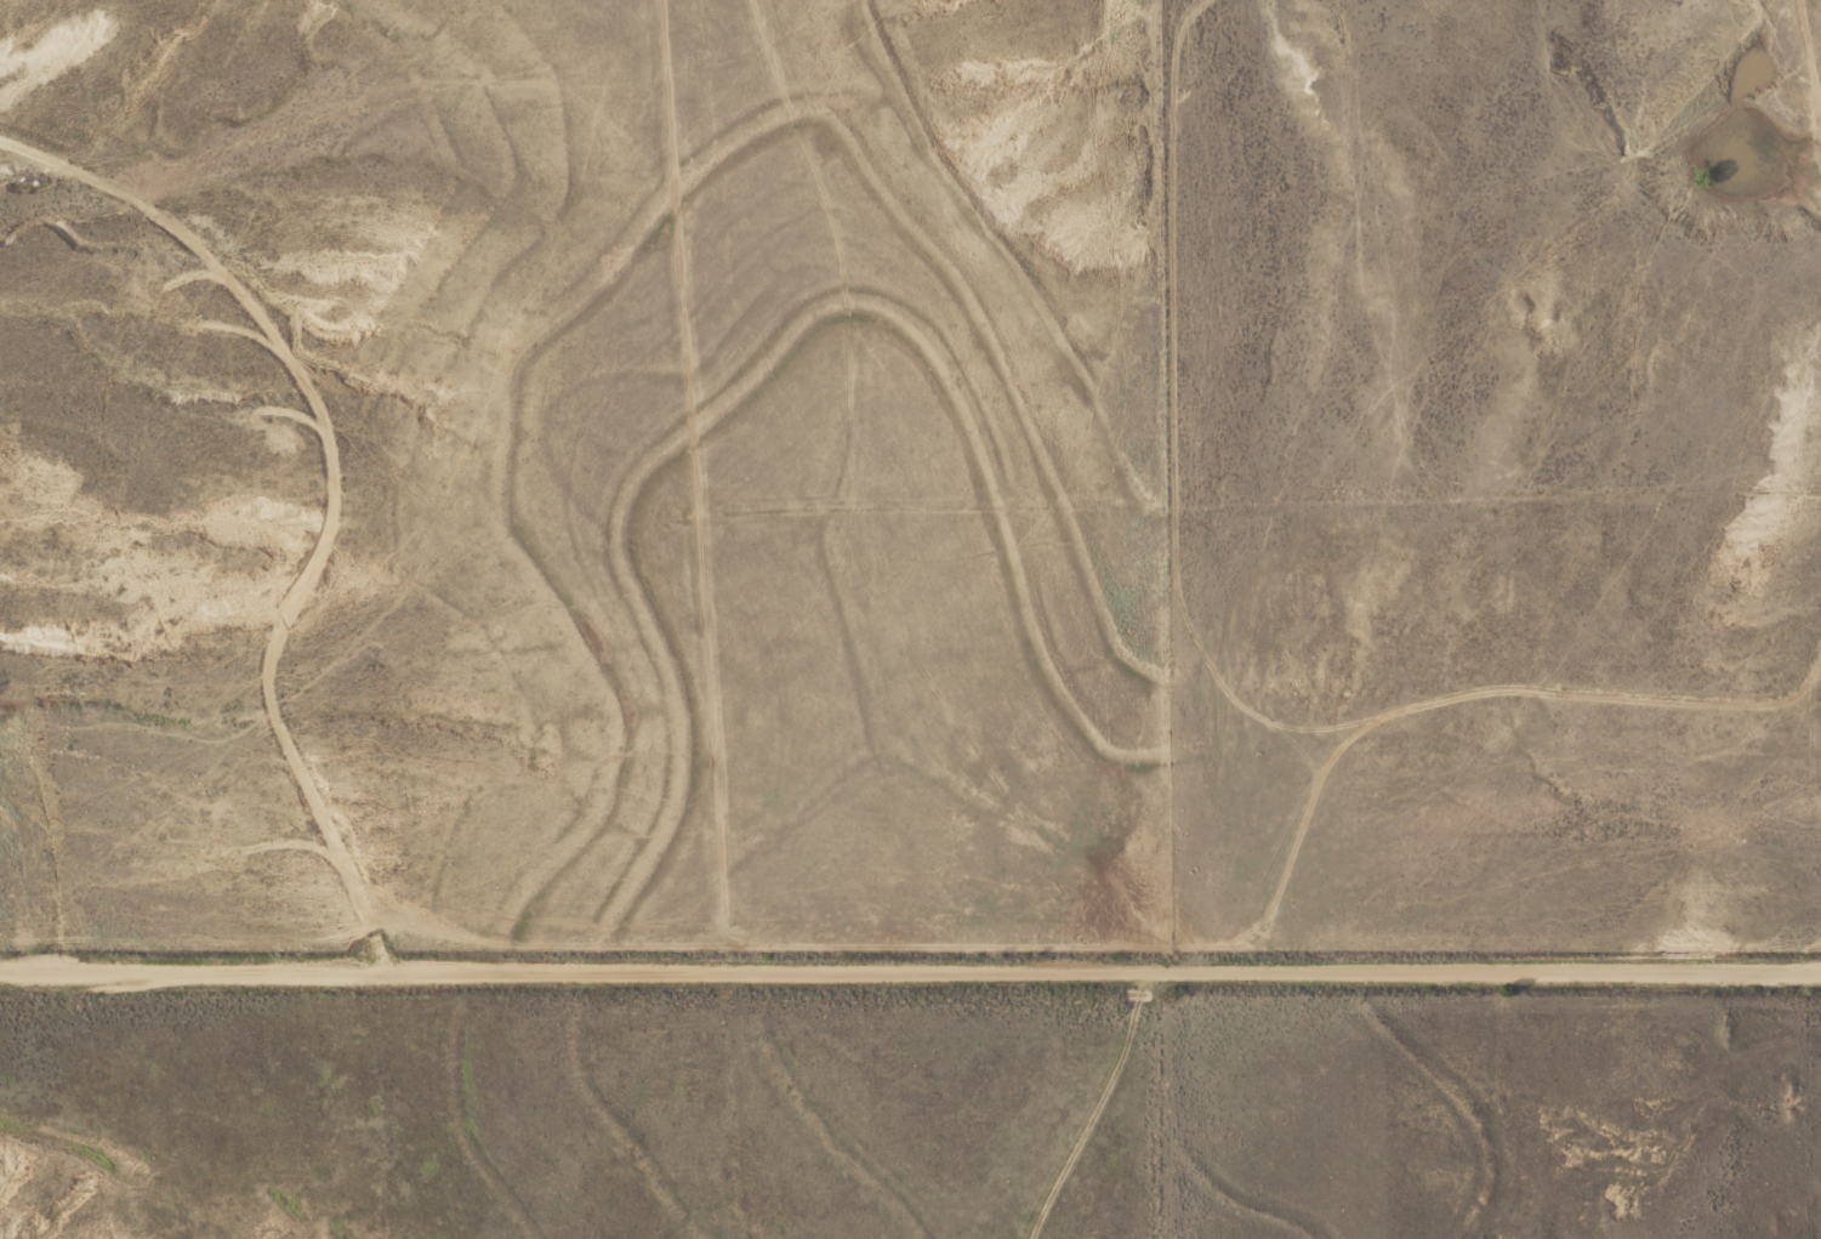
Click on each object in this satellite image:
road: (910, 970)

